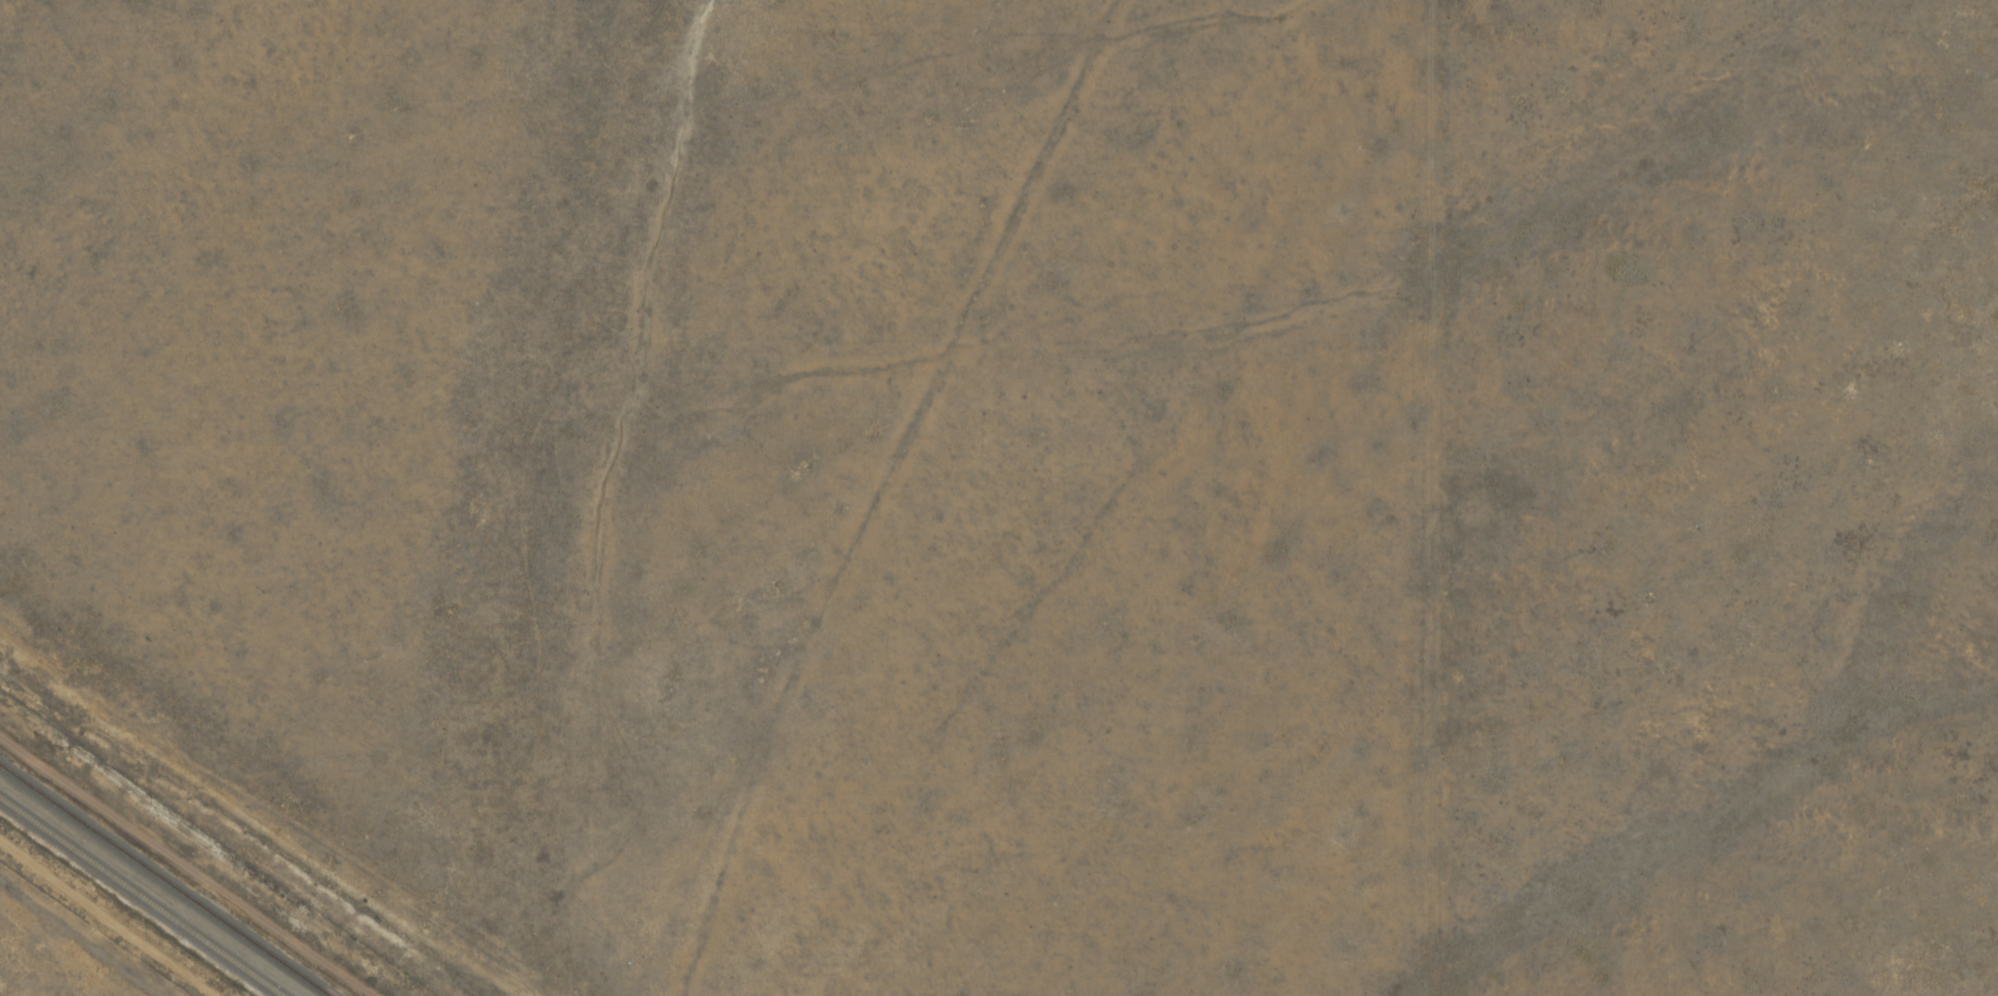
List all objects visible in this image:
road: (1416, 498)
railway: (163, 881)
railway: (140, 897)
road: (53, 961)

